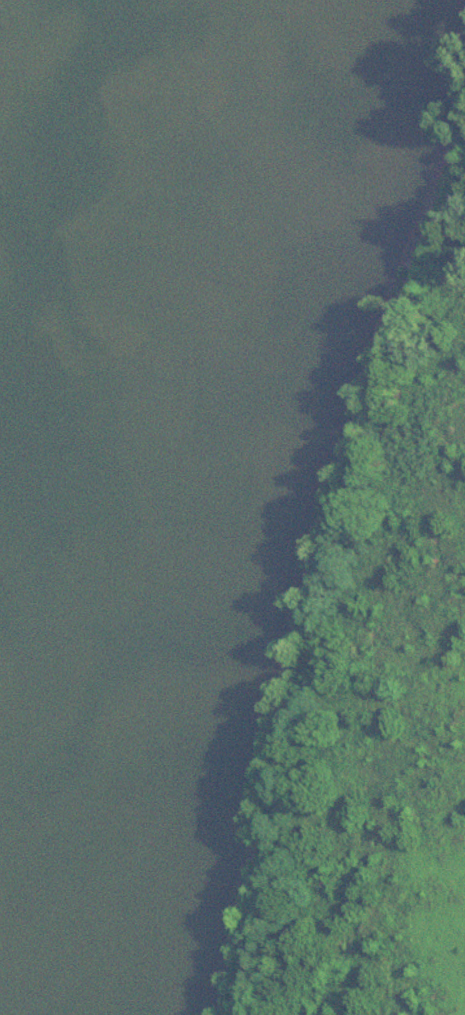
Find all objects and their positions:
river: (26, 115)

